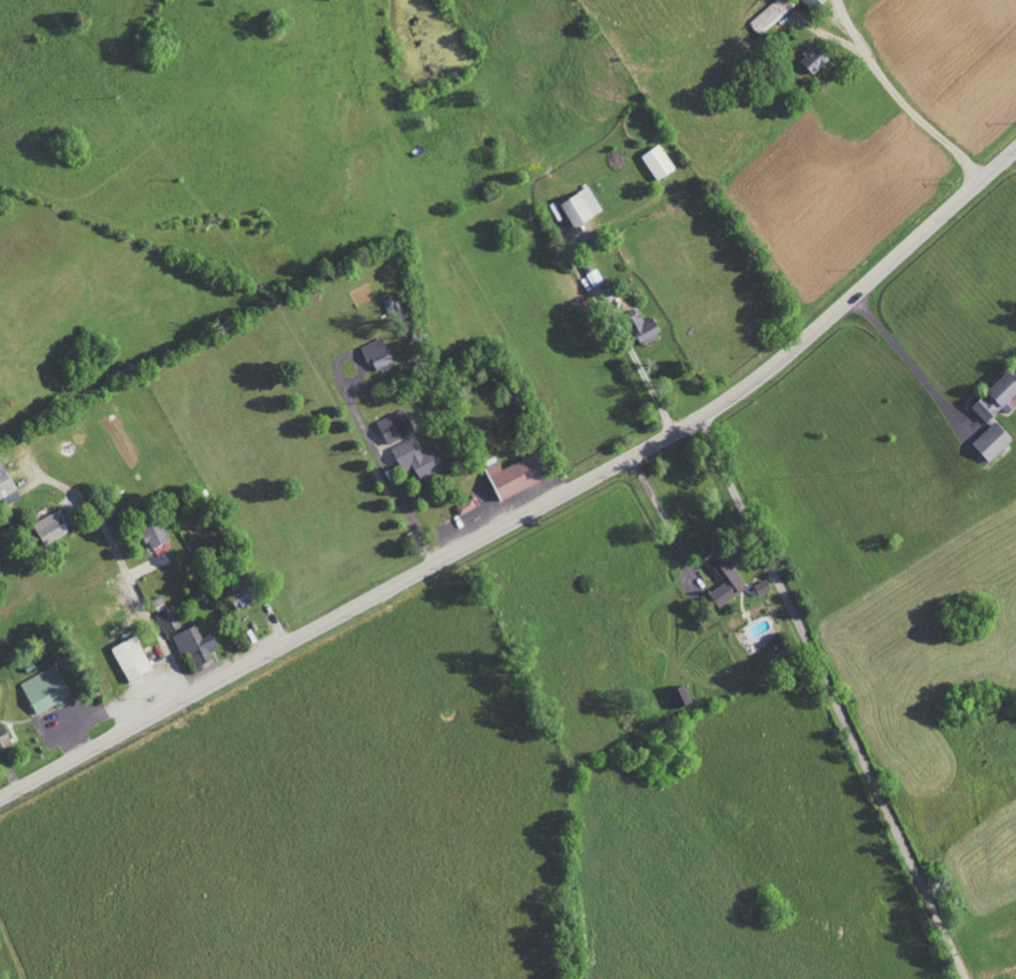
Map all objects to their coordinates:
building: (811, 3)
building: (770, 15)
building: (813, 58)
road: (899, 97)
building: (658, 162)
building: (580, 206)
building: (594, 277)
building: (643, 328)
building: (376, 354)
road: (909, 363)
road: (645, 378)
building: (986, 415)
building: (395, 426)
building: (417, 460)
building: (514, 475)
road: (390, 476)
building: (4, 482)
building: (465, 506)
road: (532, 508)
road: (661, 512)
building: (49, 529)
building: (154, 533)
road: (128, 570)
building: (727, 581)
building: (239, 594)
building: (165, 618)
building: (195, 645)
building: (131, 659)
building: (46, 690)
road: (835, 696)
building: (680, 697)
building: (3, 739)

